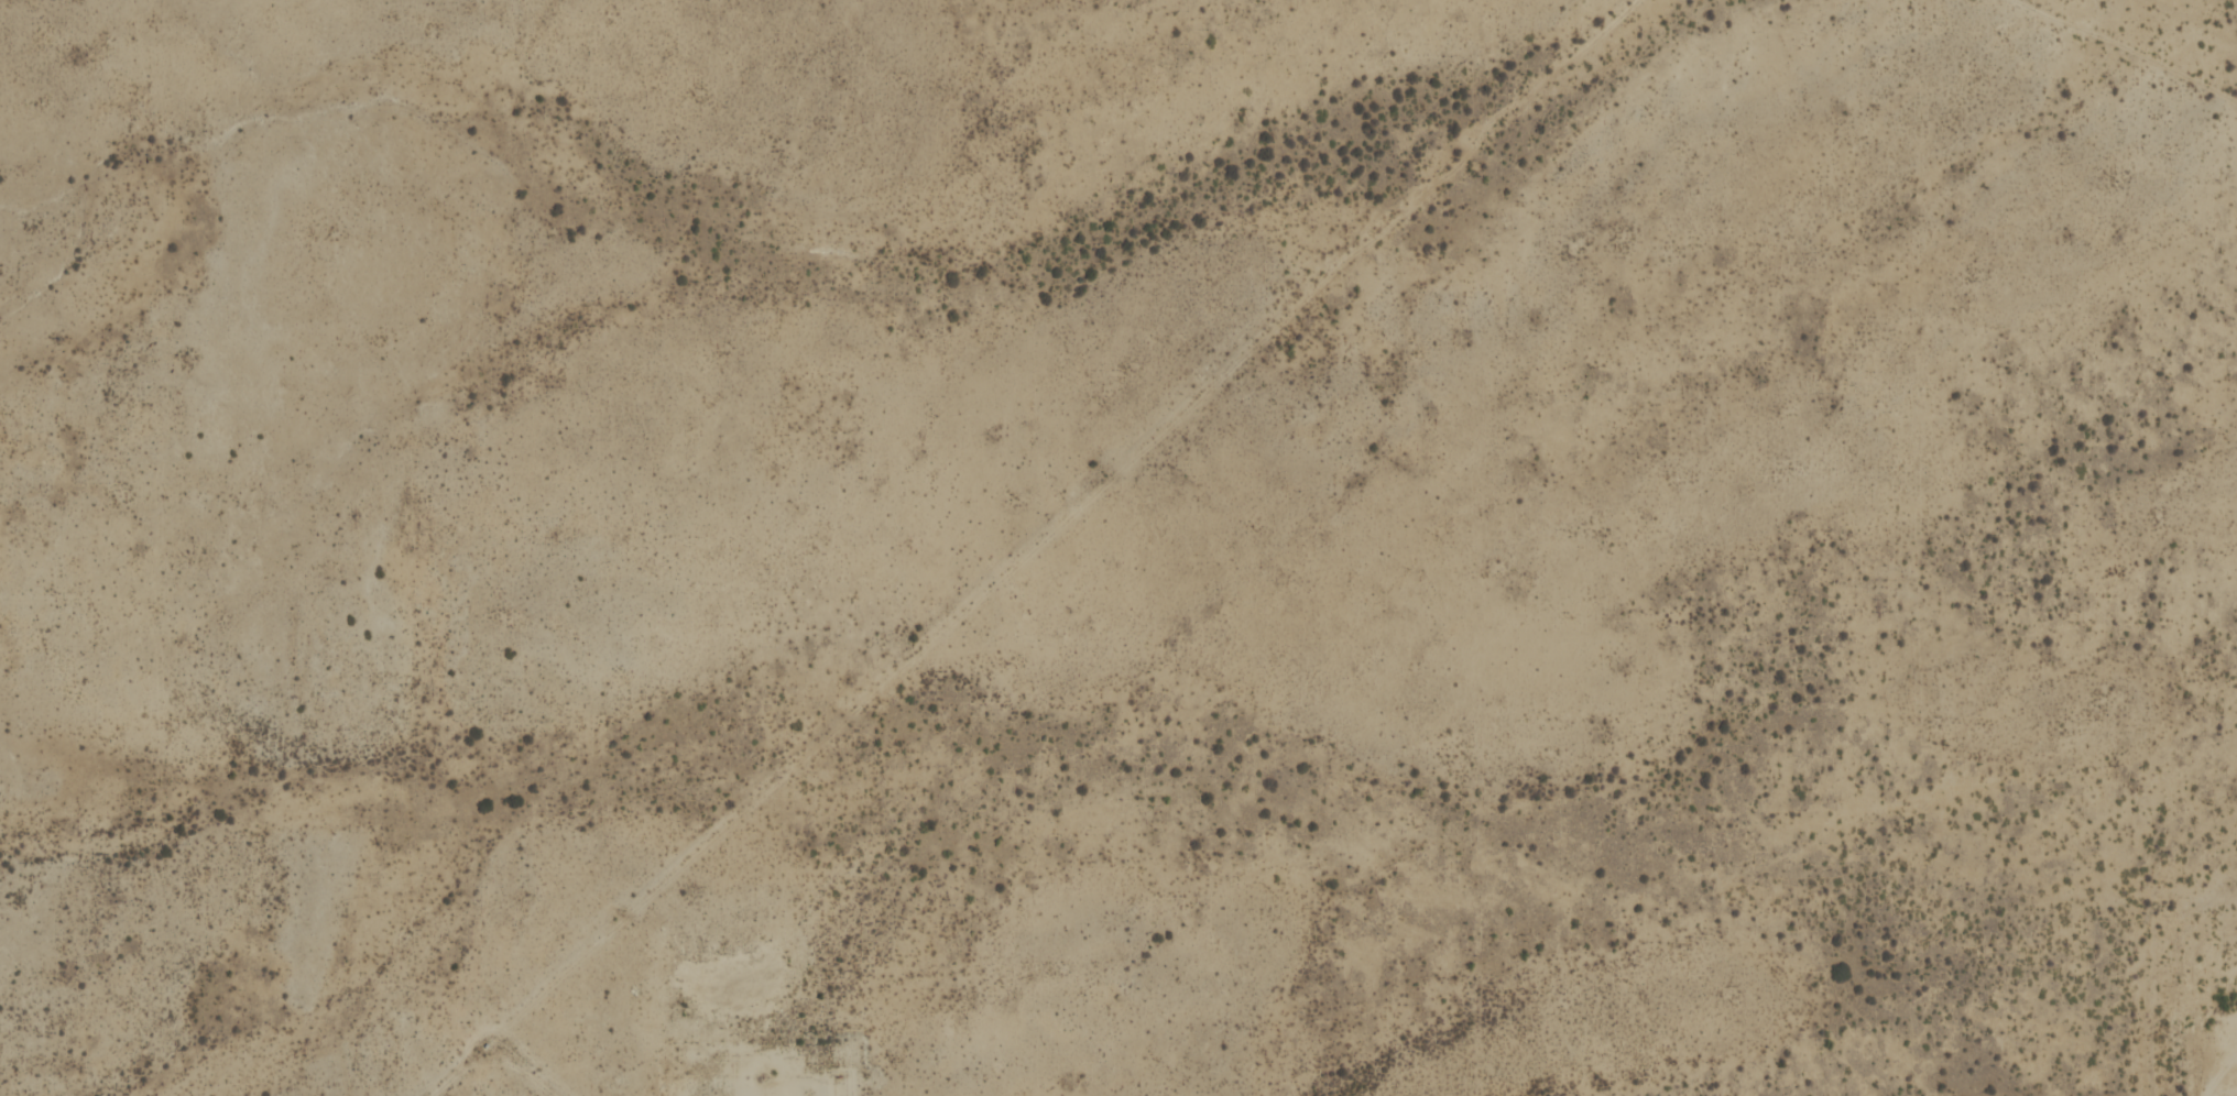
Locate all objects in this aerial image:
road: (2222, 1082)

